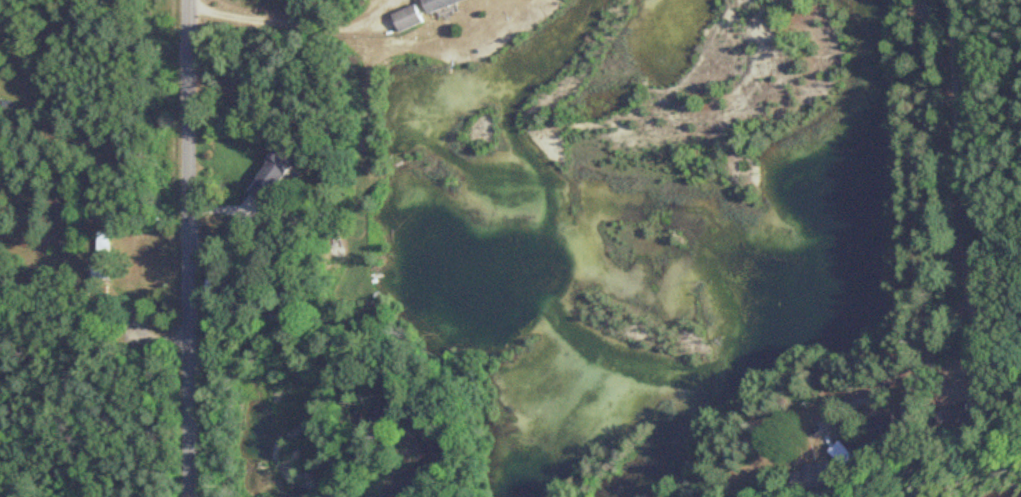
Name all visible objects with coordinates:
building: (436, 5)
building: (404, 19)
road: (272, 60)
building: (4, 109)
road: (1014, 166)
building: (269, 177)
road: (185, 248)
road: (365, 248)
road: (910, 251)
building: (100, 259)
building: (956, 415)
building: (808, 479)

